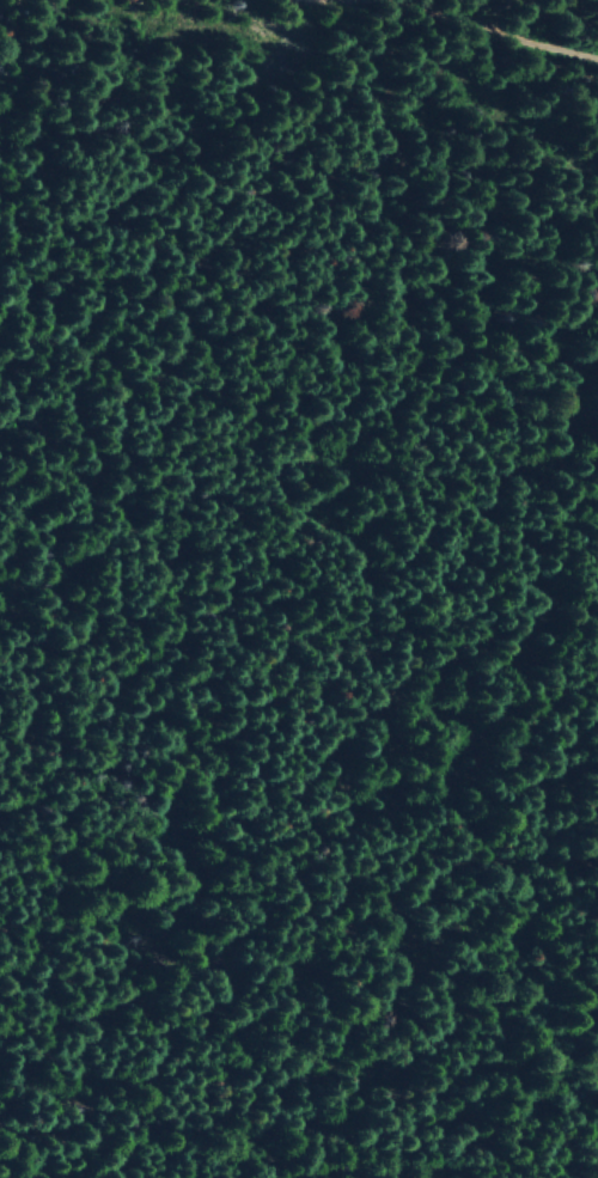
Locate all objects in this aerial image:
road: (498, 32)

